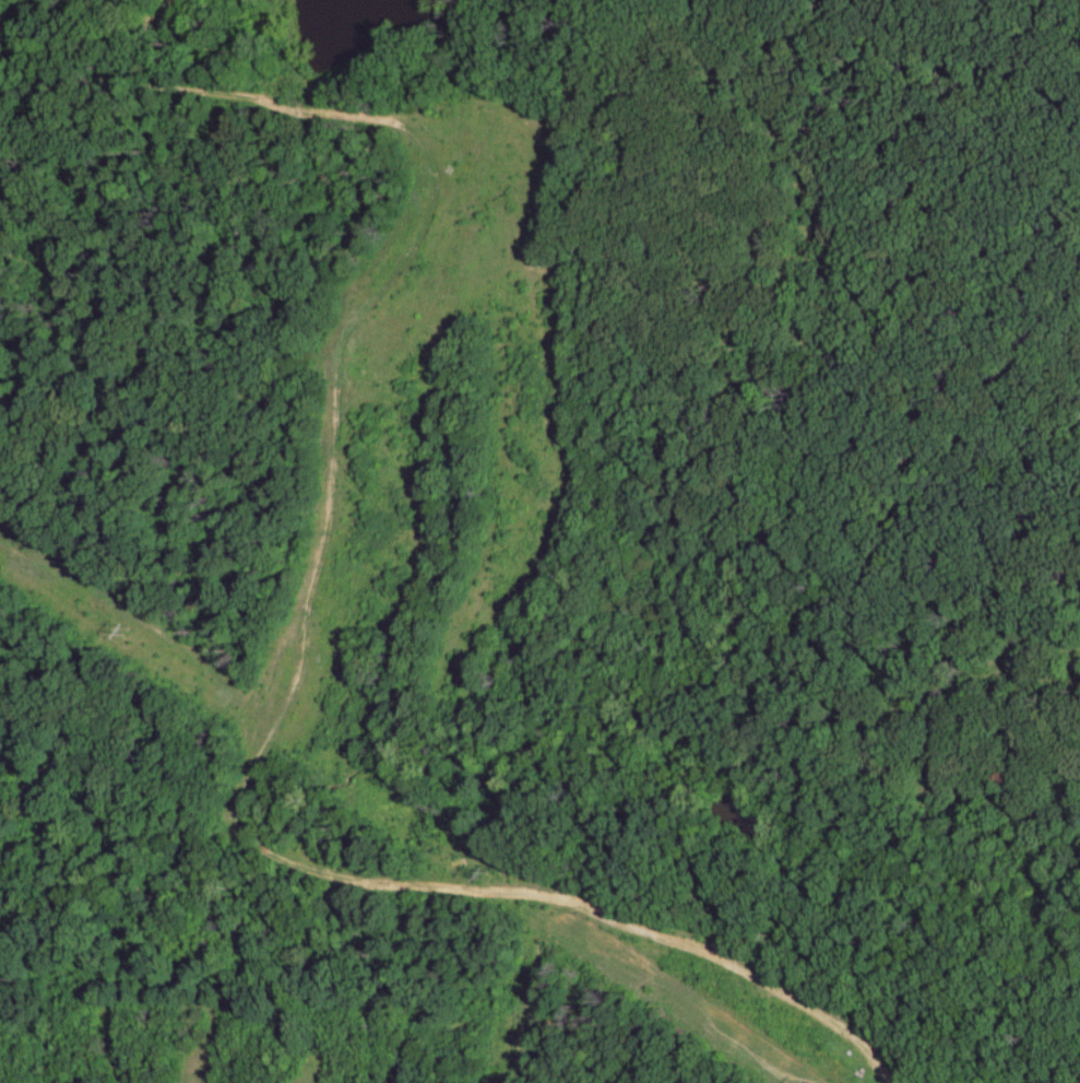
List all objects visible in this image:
power tower: (118, 634)
power tower: (487, 876)
road: (651, 932)

